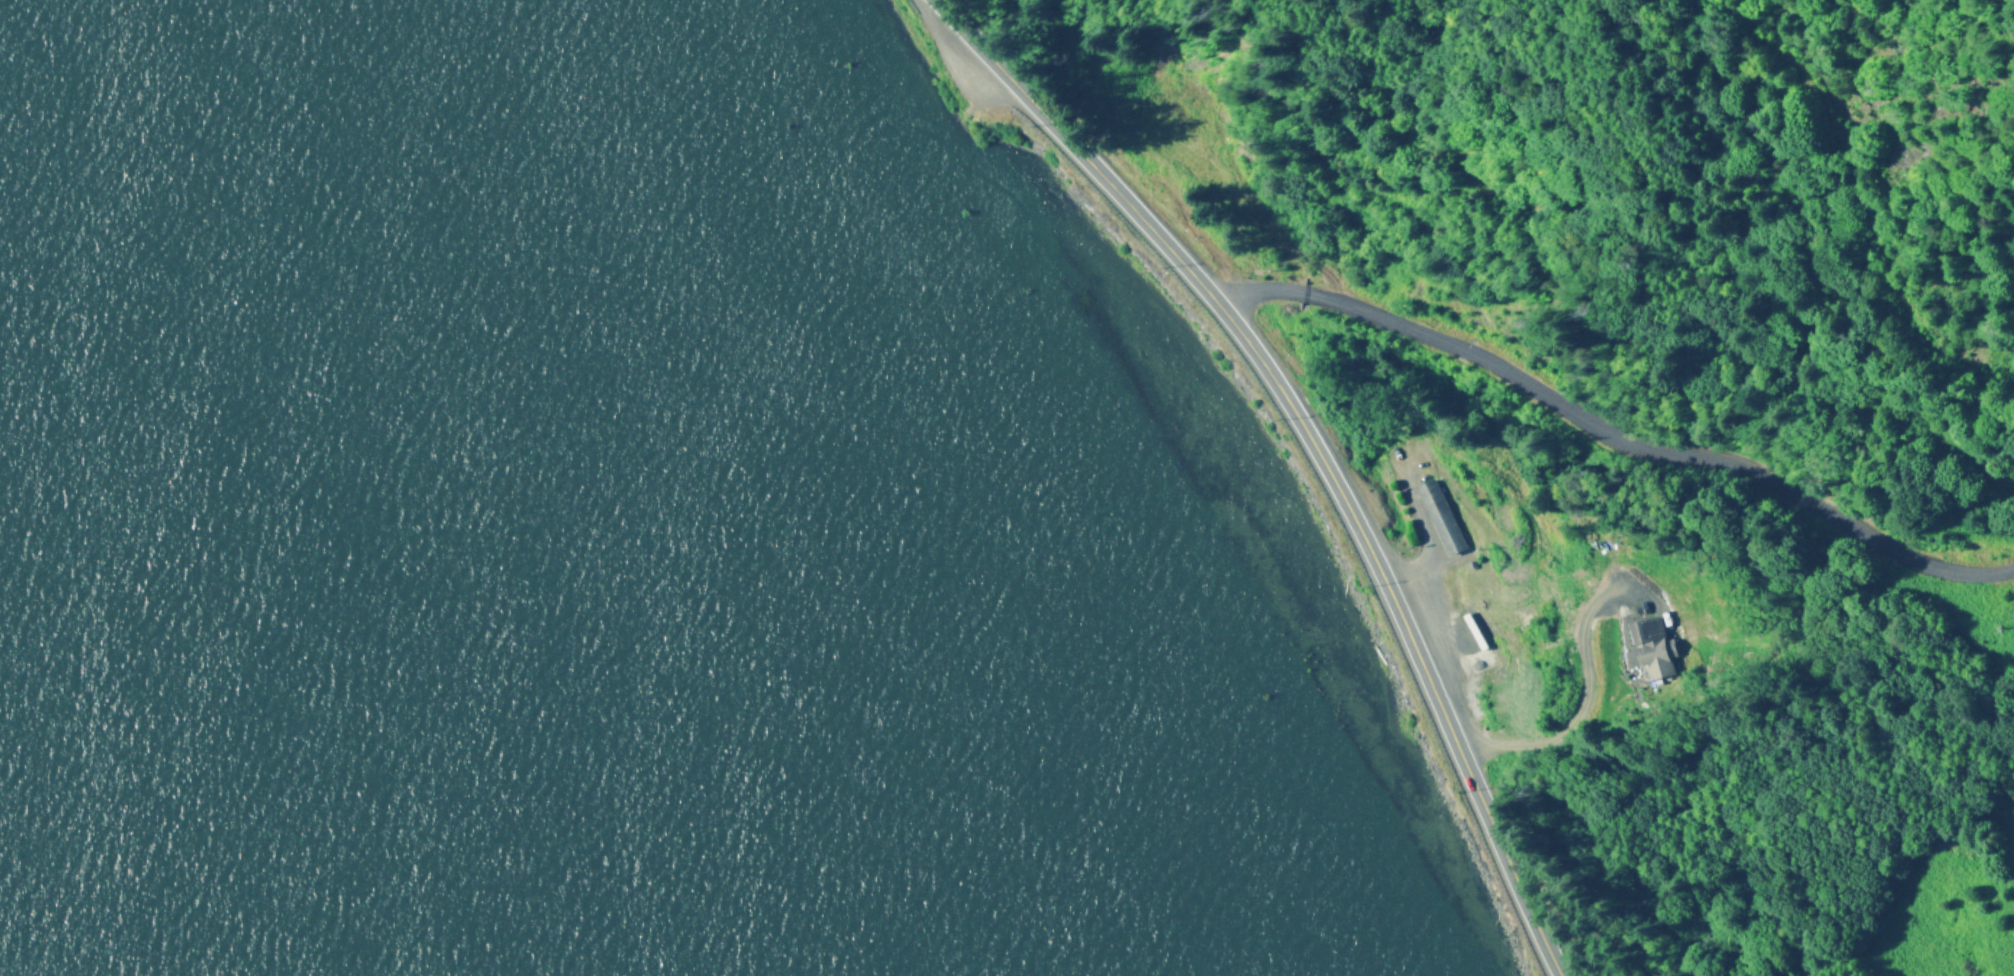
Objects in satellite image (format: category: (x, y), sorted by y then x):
parking lot: (973, 82)
road: (1610, 442)
road: (1309, 446)
building: (1439, 518)
building: (1651, 647)
building: (1477, 660)
road: (1577, 713)
river: (192, 773)

